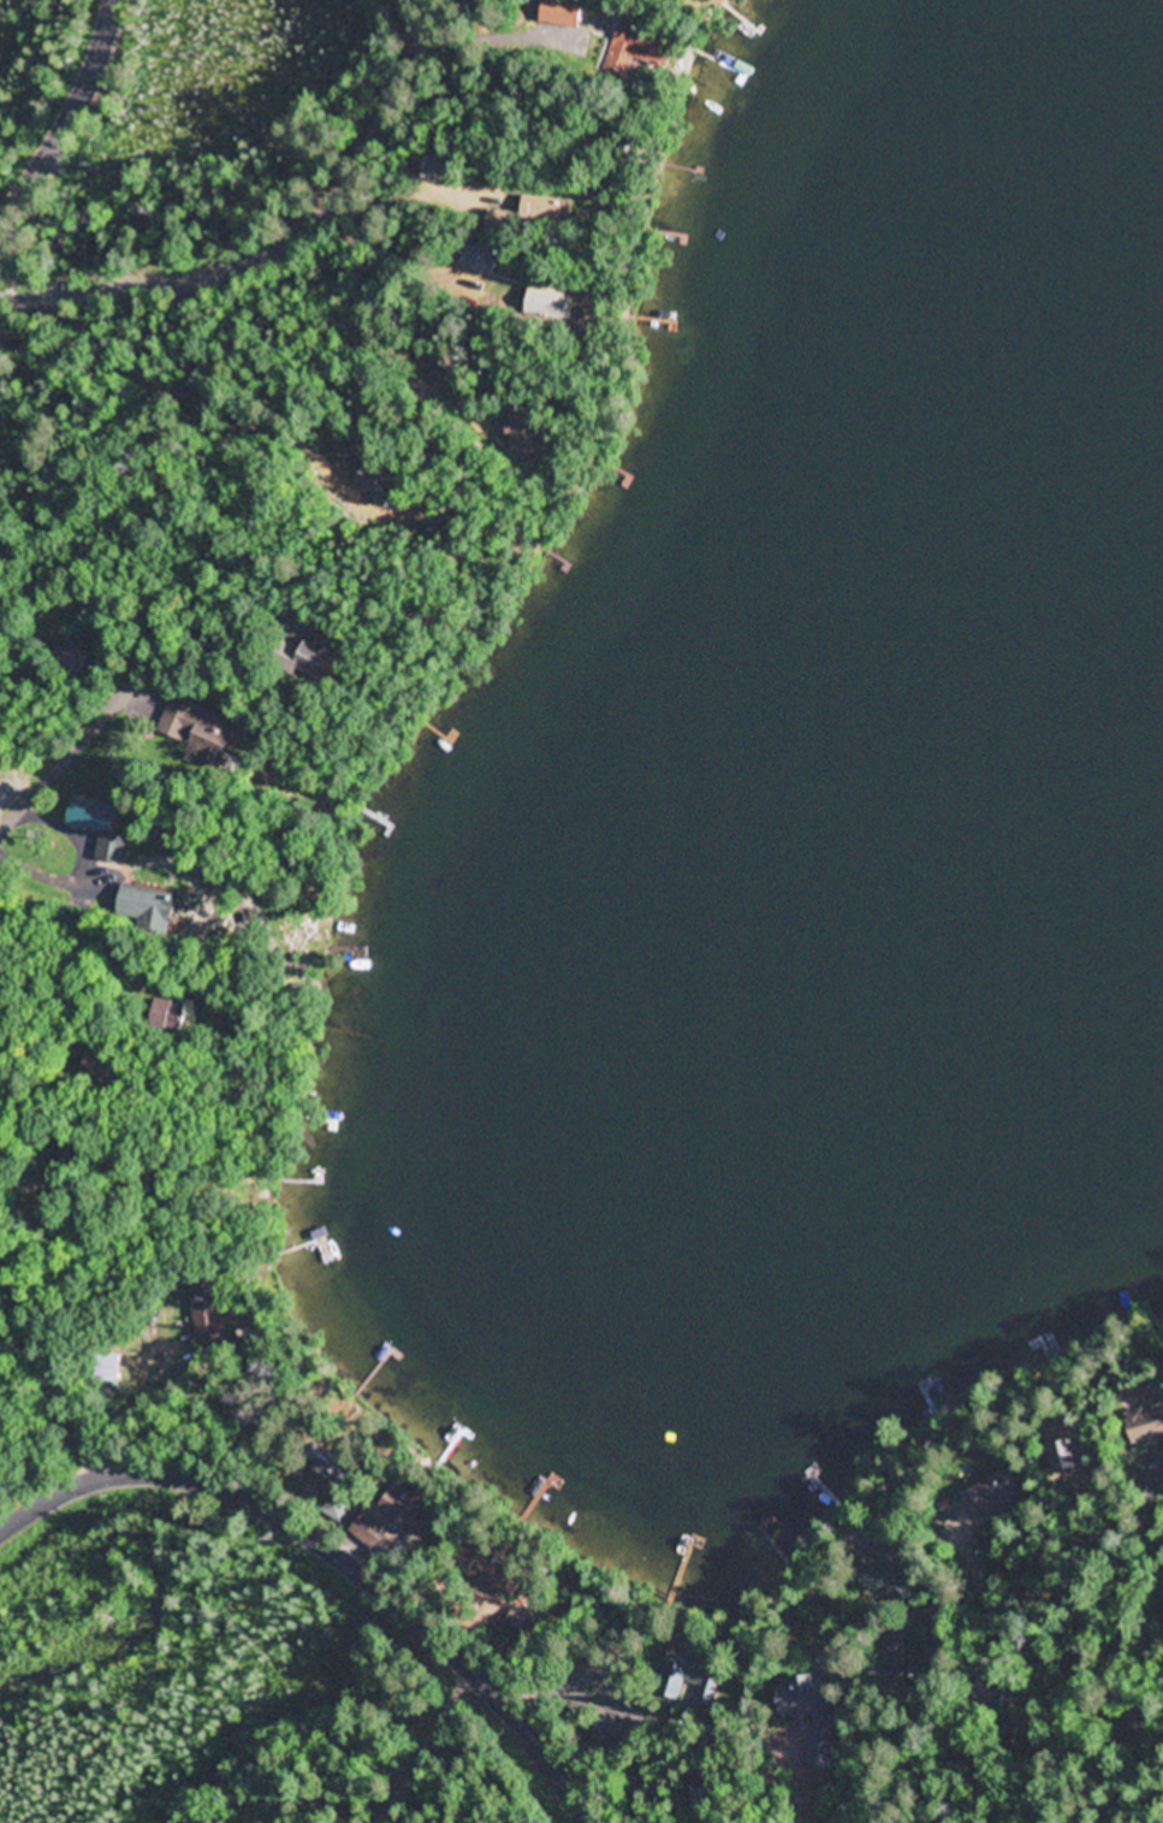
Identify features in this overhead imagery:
building: (564, 13)
building: (639, 51)
road: (71, 118)
building: (429, 170)
building: (545, 211)
road: (281, 245)
building: (479, 260)
building: (553, 302)
road: (179, 391)
building: (533, 433)
building: (386, 489)
road: (254, 594)
building: (326, 664)
building: (131, 699)
road: (143, 702)
road: (115, 704)
building: (203, 732)
building: (103, 828)
road: (77, 831)
road: (55, 882)
building: (153, 911)
road: (93, 923)
building: (177, 1016)
building: (97, 1066)
road: (2, 1142)
building: (208, 1313)
building: (1048, 1345)
building: (1150, 1425)
building: (1073, 1455)
building: (996, 1497)
road: (1153, 1505)
building: (336, 1508)
building: (410, 1510)
road: (332, 1559)
building: (492, 1567)
building: (886, 1578)
road: (1086, 1652)
road: (1021, 1670)
building: (686, 1674)
road: (571, 1682)
building: (983, 1693)
building: (812, 1717)
road: (942, 1733)
road: (802, 1777)

